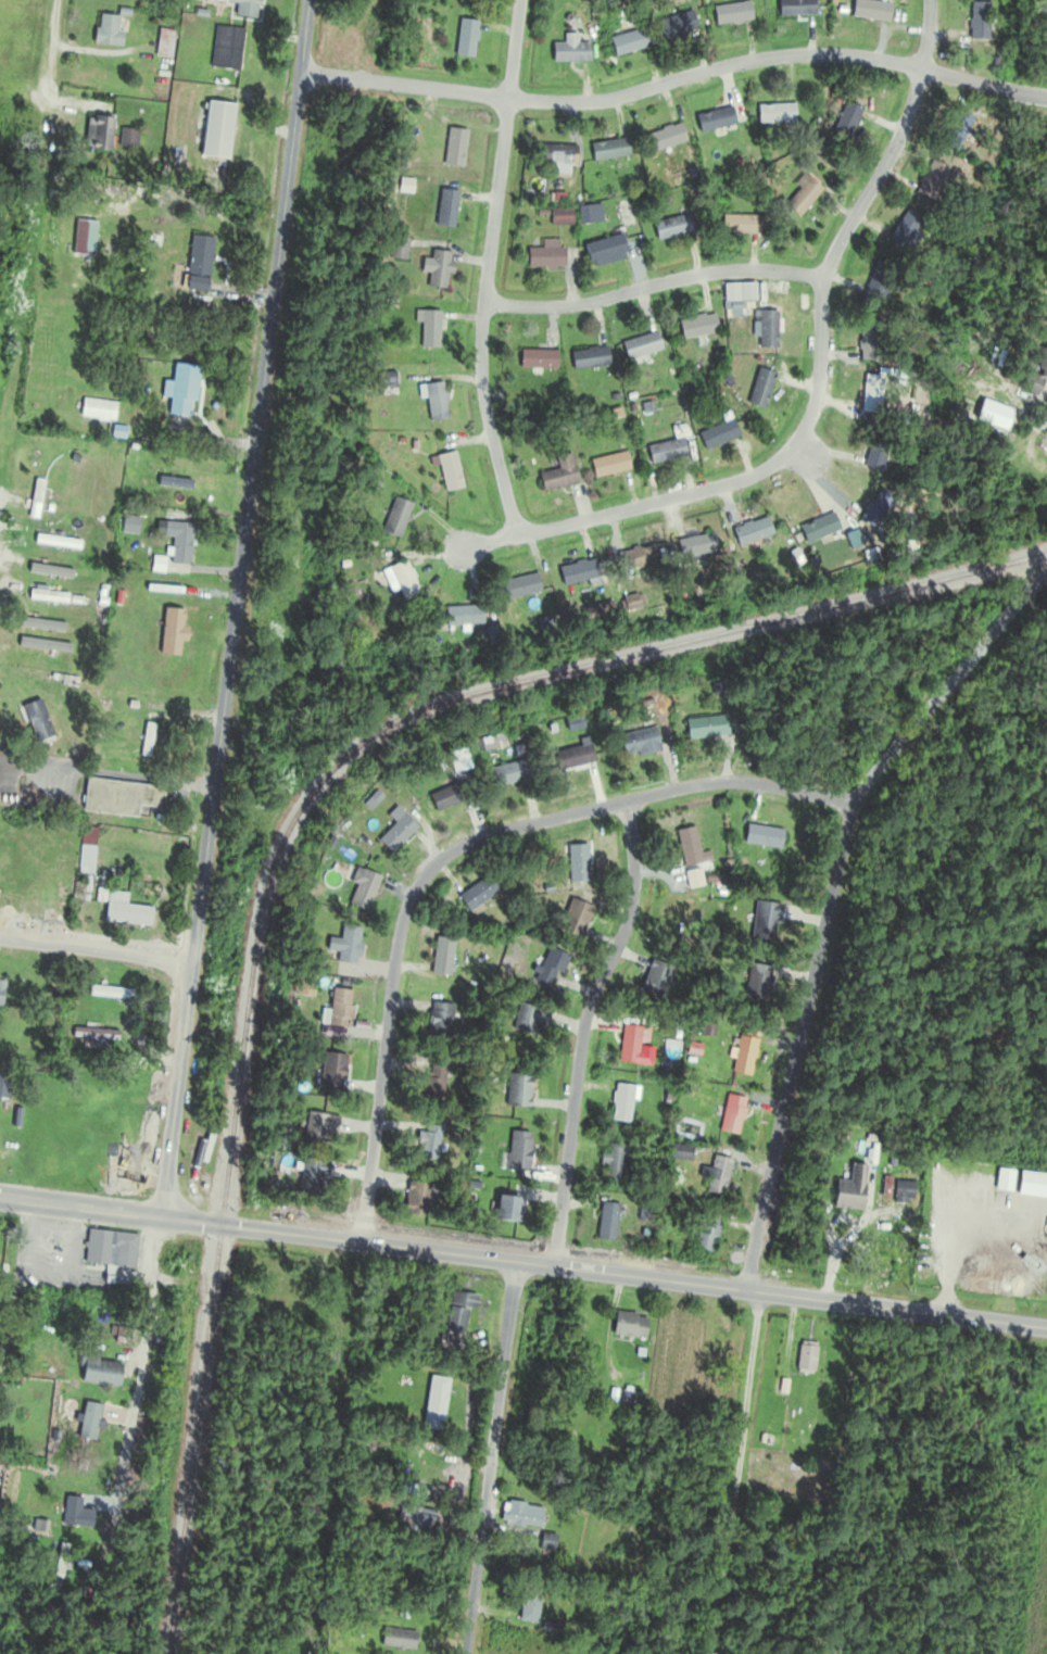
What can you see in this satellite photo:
building: (791, 8)
building: (243, 9)
building: (869, 10)
building: (730, 14)
building: (975, 21)
building: (673, 25)
building: (106, 30)
building: (465, 39)
building: (628, 42)
road: (49, 47)
building: (226, 49)
building: (163, 50)
building: (569, 53)
road: (674, 79)
building: (774, 114)
building: (714, 119)
building: (844, 122)
building: (956, 126)
building: (215, 130)
building: (98, 135)
building: (664, 138)
building: (453, 148)
building: (608, 150)
building: (555, 155)
building: (928, 180)
building: (799, 197)
building: (445, 210)
building: (589, 215)
building: (559, 217)
building: (742, 225)
building: (670, 228)
building: (903, 230)
building: (81, 239)
building: (604, 251)
building: (544, 255)
building: (198, 264)
road: (487, 268)
building: (437, 270)
road: (23, 278)
building: (878, 282)
road: (653, 285)
building: (696, 327)
building: (428, 330)
building: (766, 330)
building: (867, 340)
building: (640, 348)
building: (588, 359)
road: (817, 359)
building: (537, 361)
building: (1034, 376)
building: (759, 389)
building: (181, 390)
building: (433, 401)
building: (869, 404)
building: (717, 434)
building: (1046, 435)
building: (665, 452)
building: (607, 466)
building: (447, 472)
building: (558, 476)
building: (191, 478)
building: (34, 500)
building: (876, 509)
building: (394, 518)
building: (129, 526)
building: (818, 528)
building: (749, 532)
building: (55, 542)
road: (487, 543)
building: (179, 546)
building: (694, 547)
building: (638, 558)
building: (577, 572)
building: (403, 581)
building: (519, 588)
building: (46, 597)
road: (234, 608)
building: (462, 617)
building: (40, 626)
building: (42, 646)
railway: (580, 658)
building: (36, 723)
building: (707, 728)
building: (144, 741)
building: (638, 741)
building: (573, 758)
road: (125, 775)
building: (509, 775)
building: (122, 795)
building: (453, 795)
building: (395, 831)
building: (761, 836)
building: (686, 846)
road: (455, 849)
building: (86, 850)
building: (576, 863)
building: (362, 888)
building: (477, 893)
road: (830, 899)
building: (121, 909)
building: (572, 921)
building: (764, 922)
building: (344, 946)
road: (96, 949)
building: (441, 957)
building: (308, 962)
building: (550, 967)
building: (655, 980)
building: (756, 982)
building: (304, 986)
building: (0, 989)
building: (109, 993)
building: (338, 1008)
building: (530, 1019)
building: (438, 1020)
road: (583, 1028)
building: (92, 1034)
building: (629, 1045)
building: (743, 1056)
building: (331, 1070)
building: (433, 1079)
building: (3, 1087)
building: (517, 1089)
building: (731, 1115)
building: (318, 1126)
building: (429, 1141)
building: (517, 1151)
building: (614, 1162)
building: (717, 1175)
building: (311, 1176)
building: (1002, 1179)
building: (849, 1189)
building: (903, 1191)
building: (416, 1199)
building: (504, 1208)
building: (606, 1221)
building: (706, 1233)
road: (950, 1242)
building: (109, 1249)
road: (523, 1261)
building: (881, 1271)
railway: (211, 1303)
building: (628, 1325)
building: (805, 1359)
building: (99, 1372)
road: (136, 1381)
building: (780, 1388)
building: (433, 1402)
building: (88, 1422)
road: (490, 1456)
railway: (180, 1481)
building: (70, 1512)
building: (520, 1514)
building: (417, 1520)
building: (238, 1525)
building: (528, 1606)
building: (400, 1644)

